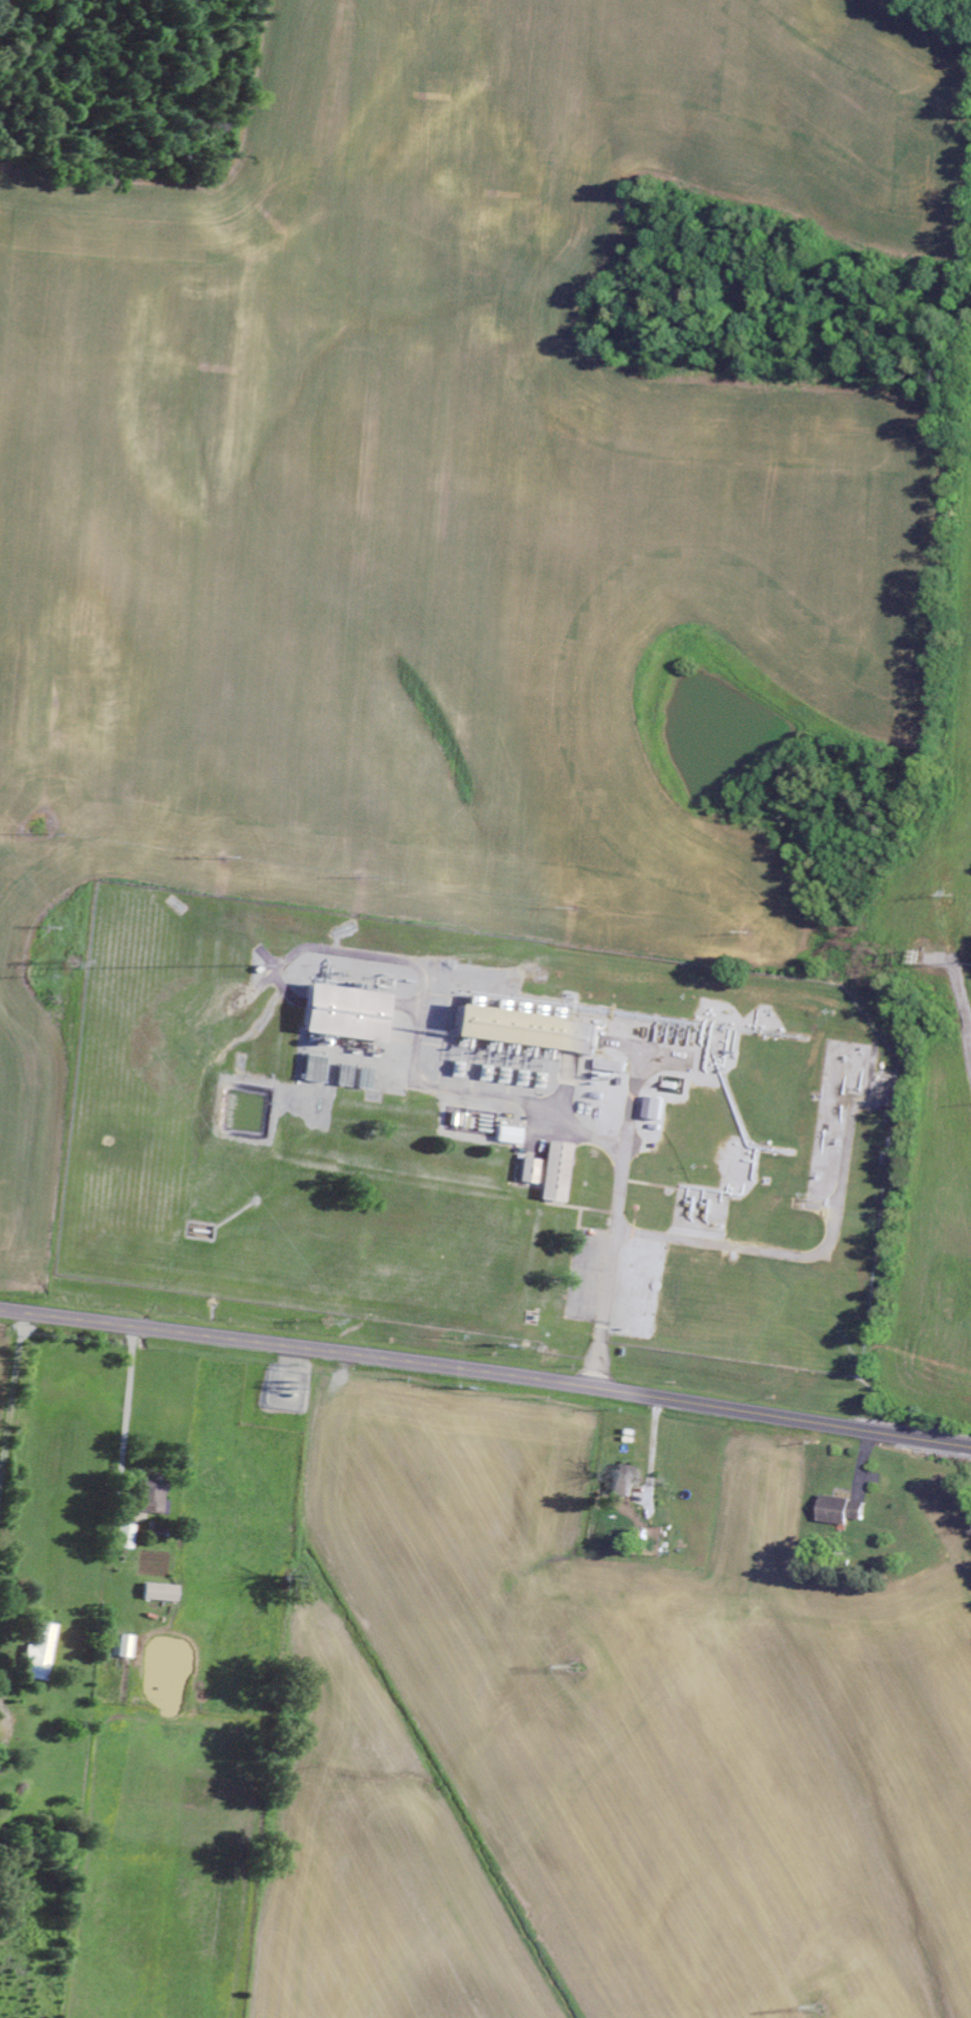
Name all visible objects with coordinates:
building: (351, 1012)
building: (661, 1107)
building: (512, 1135)
building: (531, 1170)
building: (559, 1171)
building: (540, 1180)
road: (486, 1372)
building: (627, 1480)
building: (156, 1492)
building: (849, 1510)
building: (128, 1536)
building: (163, 1593)
building: (124, 1646)
building: (44, 1652)

